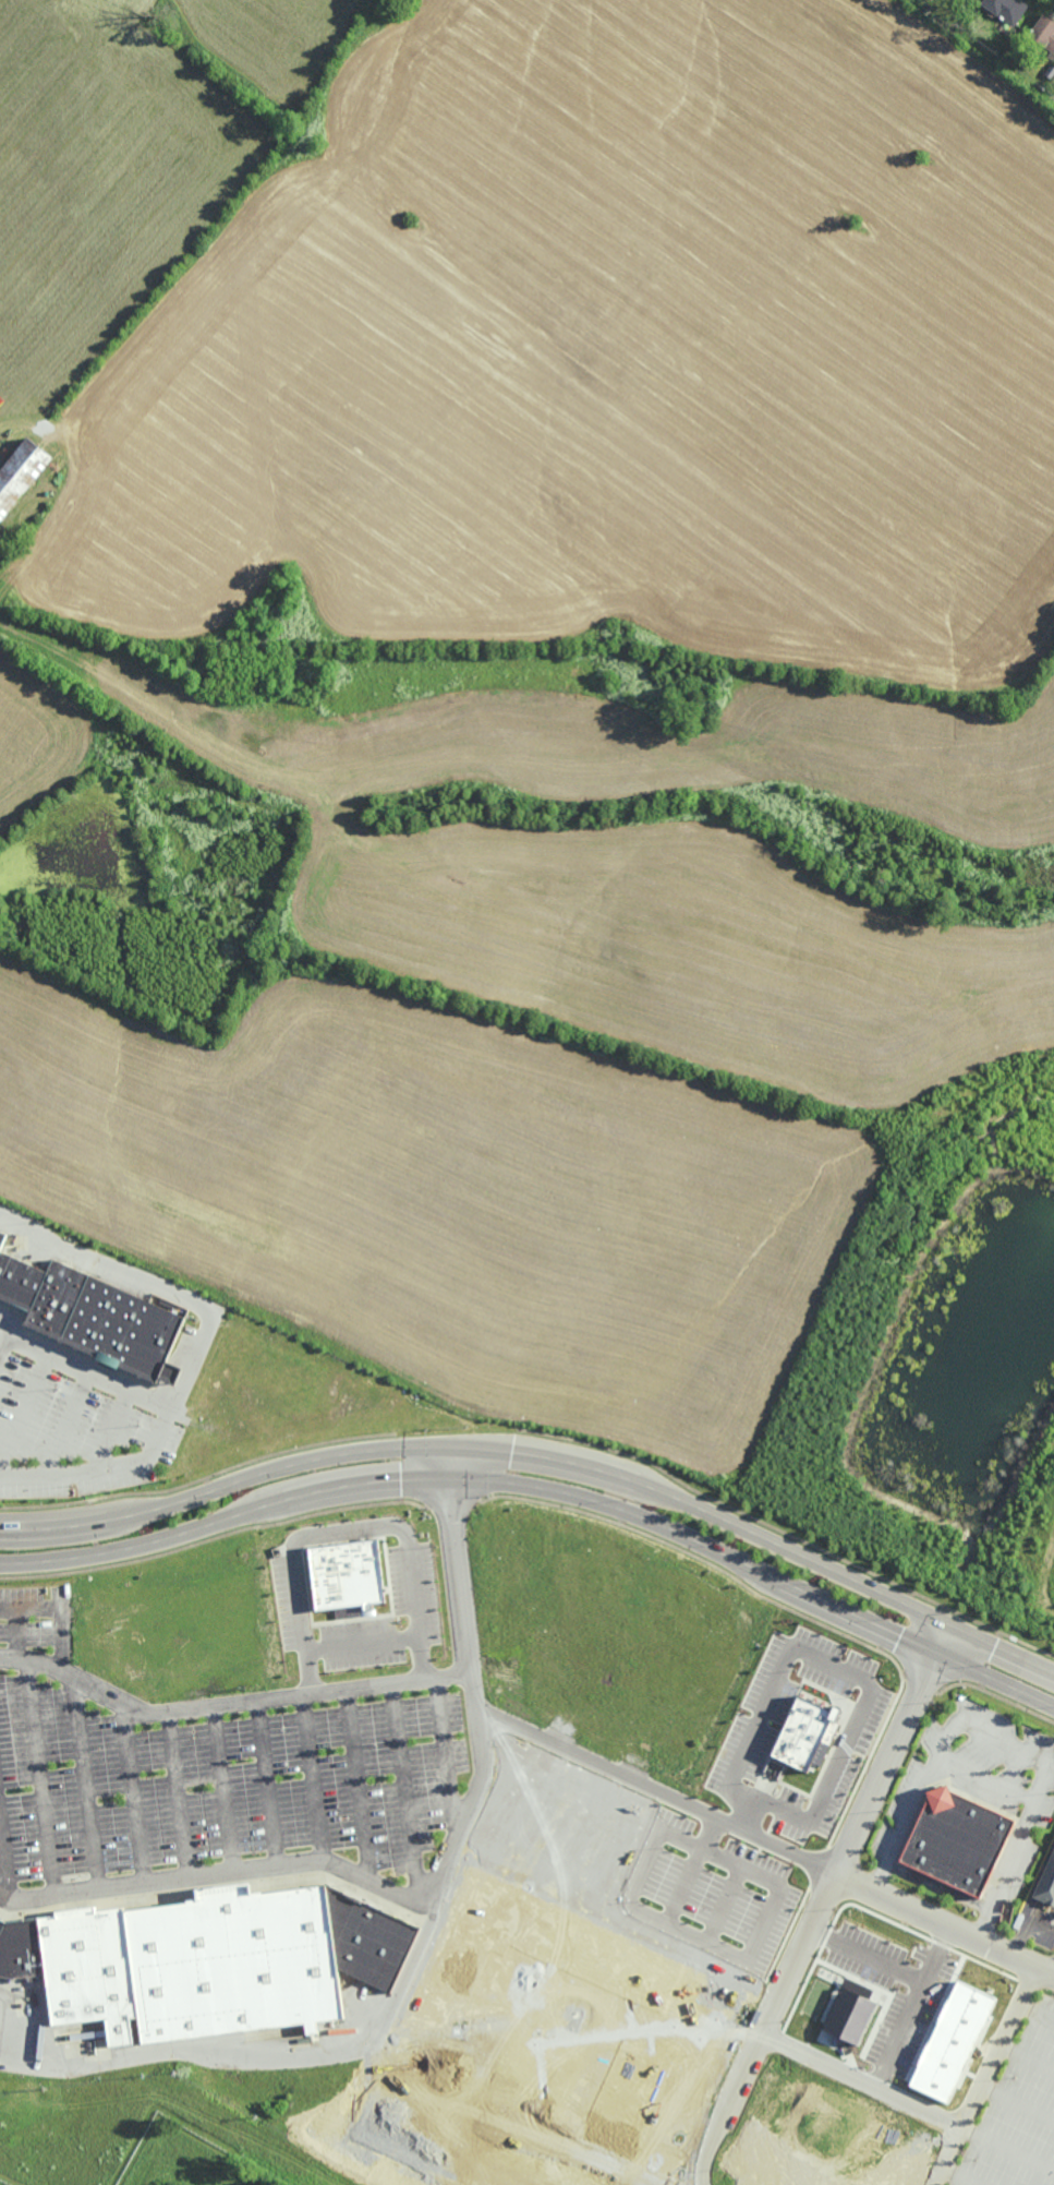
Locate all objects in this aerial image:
building: (1007, 10)
building: (121, 16)
building: (1043, 33)
building: (1049, 72)
building: (19, 473)
building: (1, 1234)
road: (152, 1284)
building: (88, 1316)
road: (5, 1329)
road: (5, 1344)
road: (25, 1405)
road: (166, 1418)
road: (65, 1421)
road: (113, 1427)
road: (543, 1454)
road: (544, 1487)
road: (348, 1530)
building: (346, 1574)
road: (58, 1611)
road: (16, 1632)
road: (363, 1643)
road: (835, 1667)
road: (230, 1702)
building: (807, 1734)
road: (1002, 1740)
road: (447, 1756)
road: (313, 1775)
road: (41, 1776)
road: (268, 1781)
road: (86, 1782)
road: (358, 1782)
road: (988, 1782)
road: (222, 1788)
road: (405, 1791)
road: (134, 1792)
road: (178, 1793)
road: (764, 1839)
building: (956, 1841)
road: (4, 1870)
road: (223, 1872)
building: (1046, 1884)
road: (821, 1901)
road: (1026, 1925)
road: (428, 1934)
road: (691, 1936)
road: (868, 1954)
building: (207, 1961)
road: (913, 2005)
road: (1037, 2012)
building: (851, 2016)
building: (953, 2041)
road: (1026, 2060)
road: (984, 2075)
road: (860, 2079)
road: (1016, 2104)
road: (1007, 2149)
road: (957, 2176)

